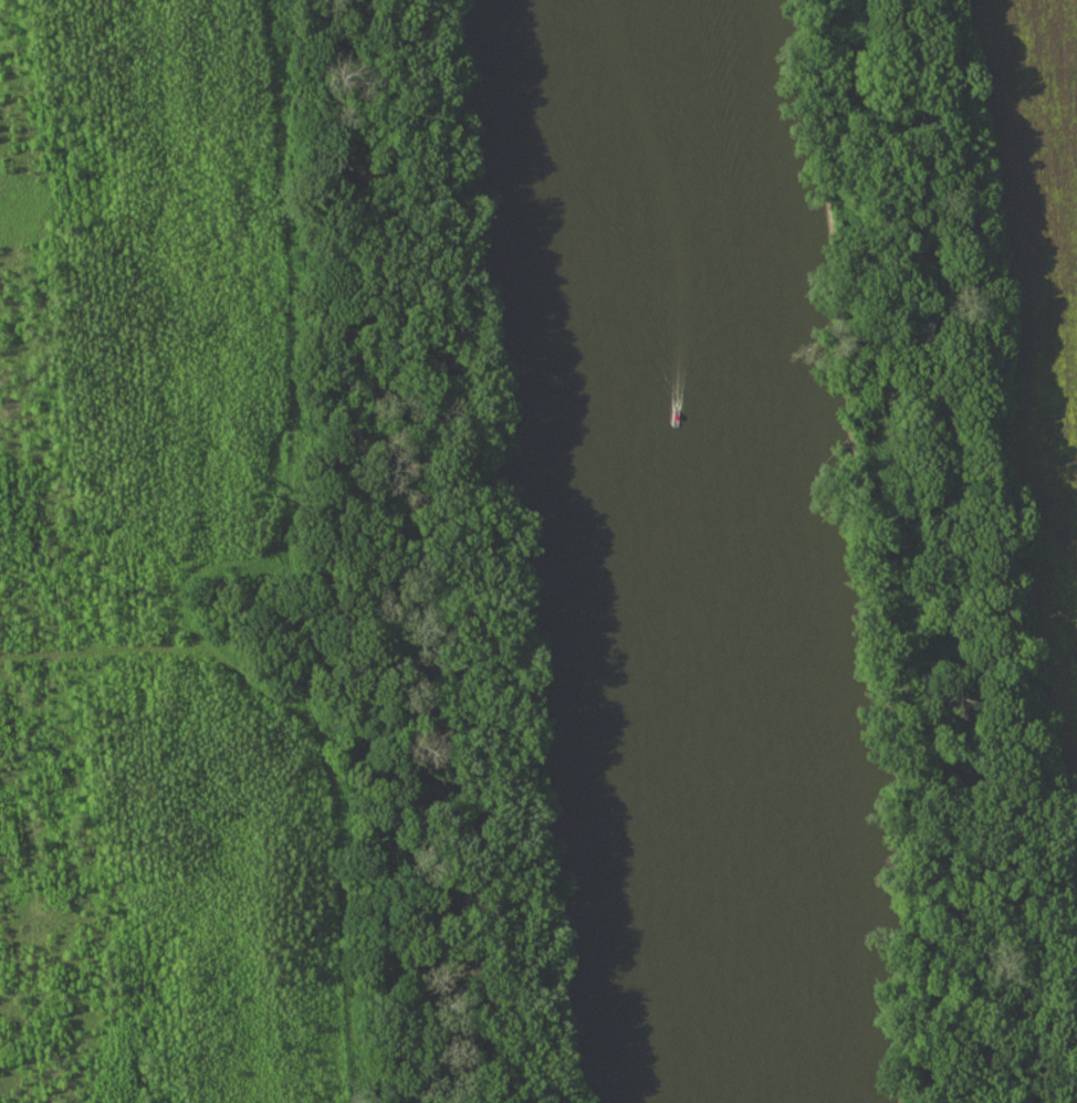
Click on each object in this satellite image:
river: (694, 549)

